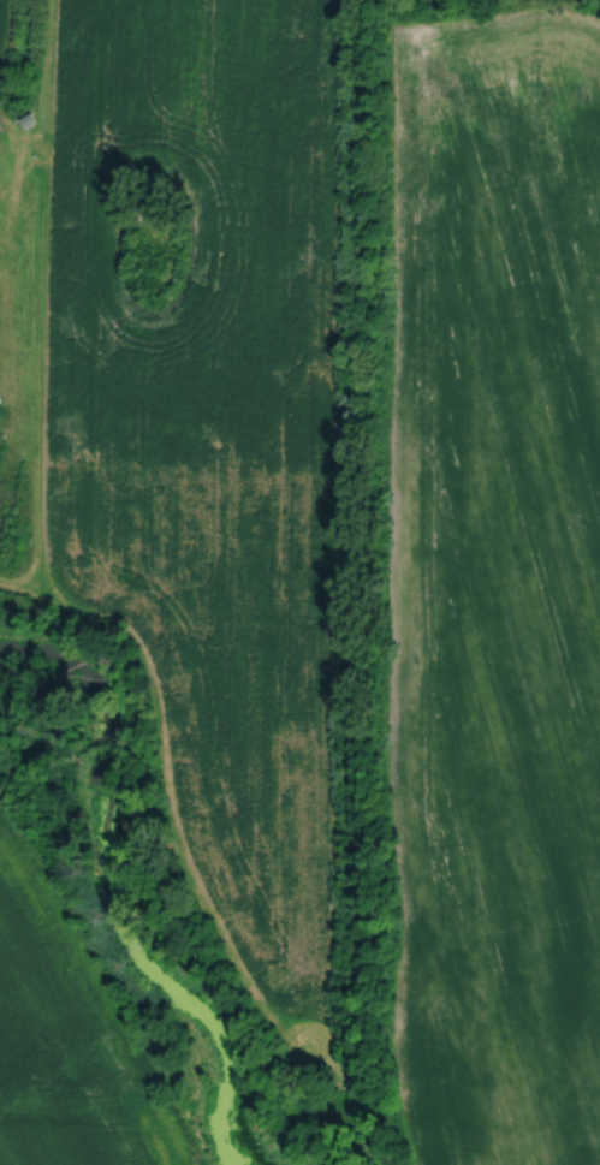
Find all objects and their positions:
river: (106, 897)

